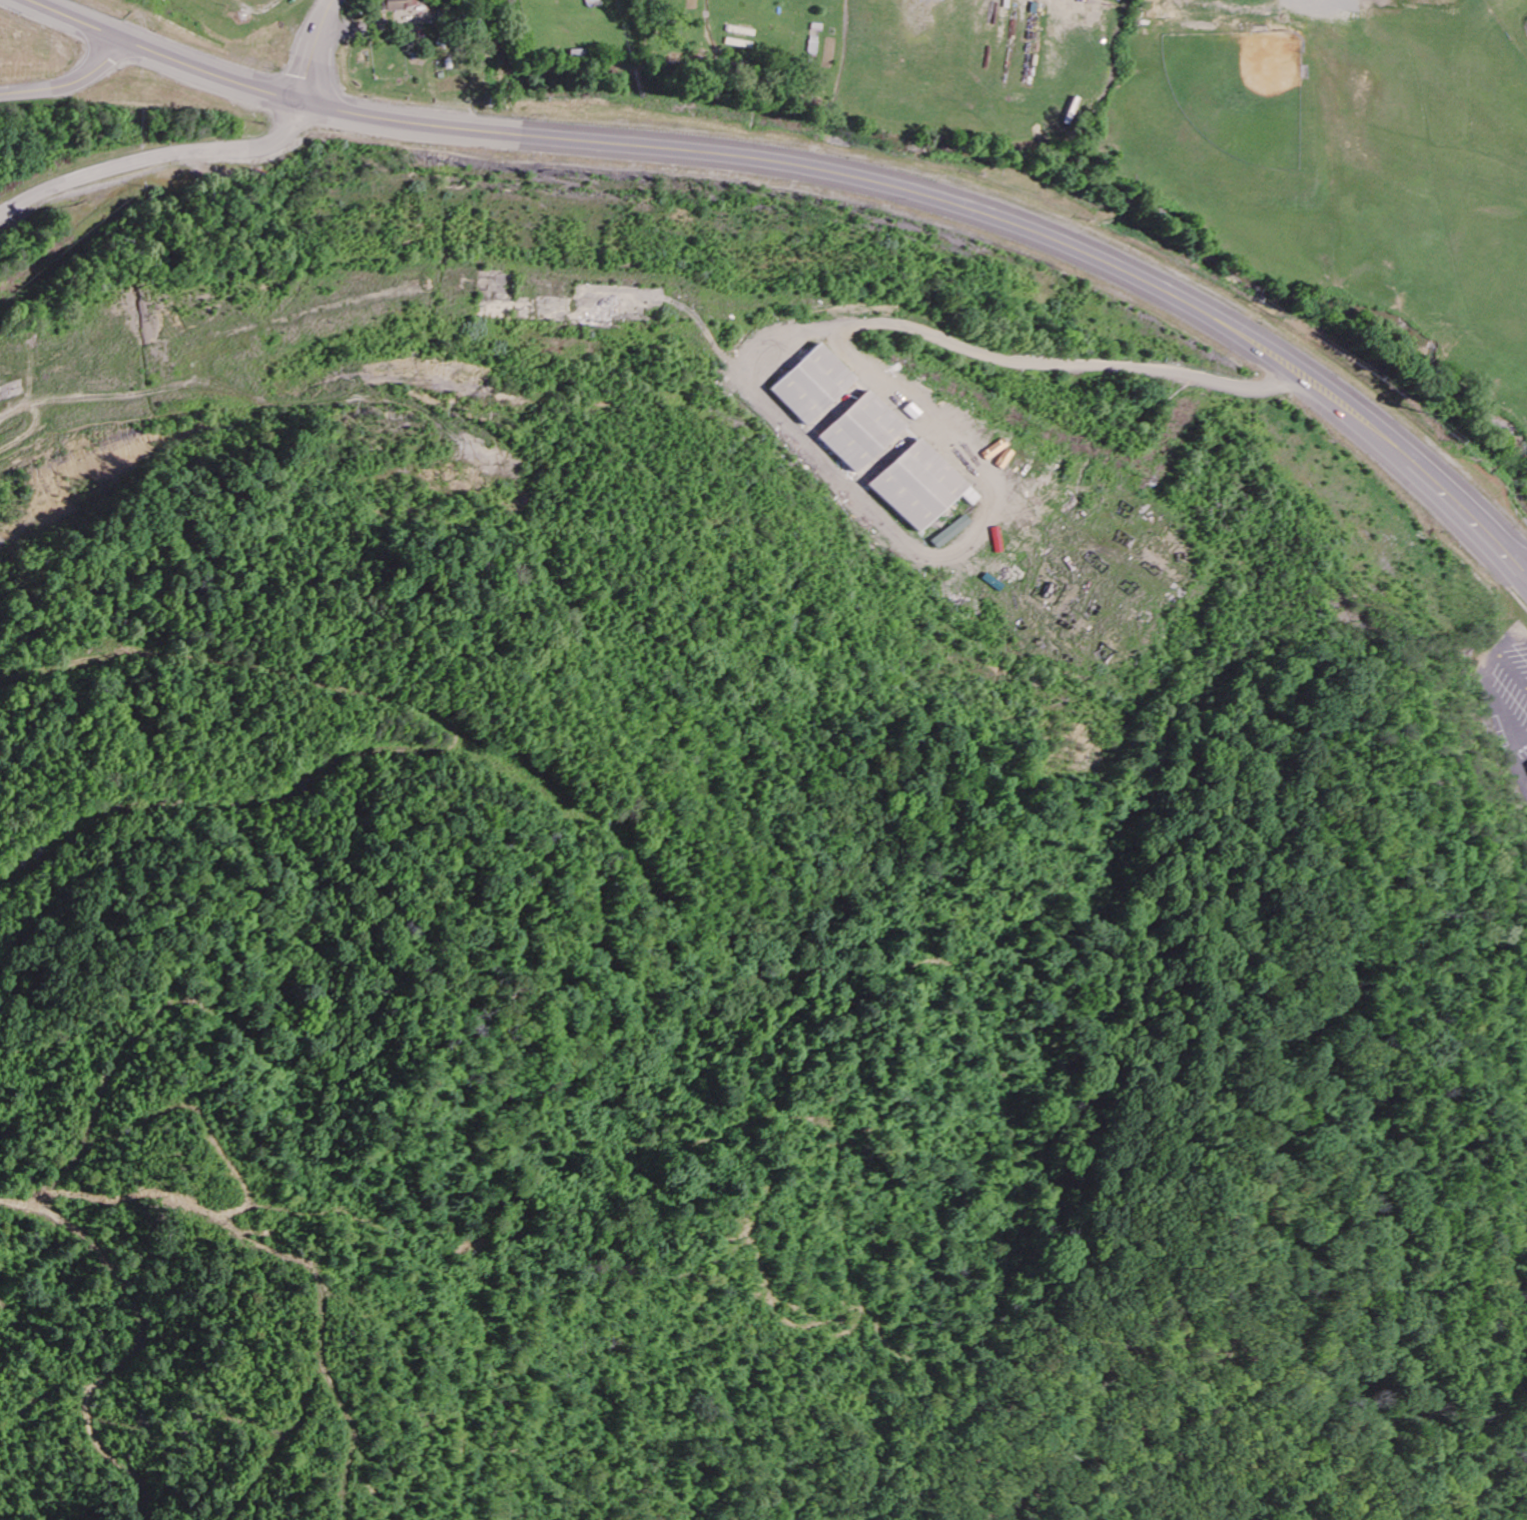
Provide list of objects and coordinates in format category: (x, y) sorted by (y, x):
building: (399, 5)
road: (314, 48)
road: (67, 82)
road: (266, 90)
road: (159, 156)
road: (1006, 208)
road: (915, 279)
building: (814, 385)
building: (863, 433)
building: (919, 487)
road: (1478, 508)
building: (951, 533)

